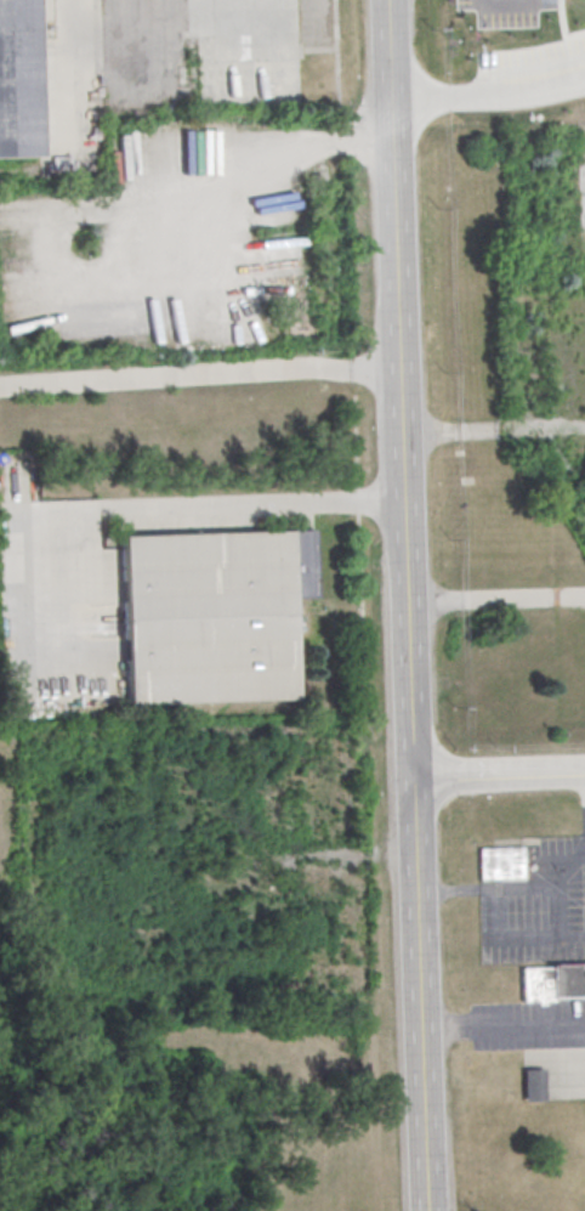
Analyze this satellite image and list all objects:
parking lot: (504, 4)
road: (509, 5)
road: (68, 77)
building: (18, 80)
road: (488, 92)
road: (78, 221)
road: (396, 300)
road: (198, 379)
road: (251, 500)
road: (40, 560)
road: (494, 598)
parking lot: (58, 607)
building: (214, 617)
road: (408, 690)
road: (498, 776)
building: (500, 867)
road: (505, 889)
road: (552, 935)
building: (552, 984)
road: (416, 995)
road: (501, 1028)
building: (533, 1083)

